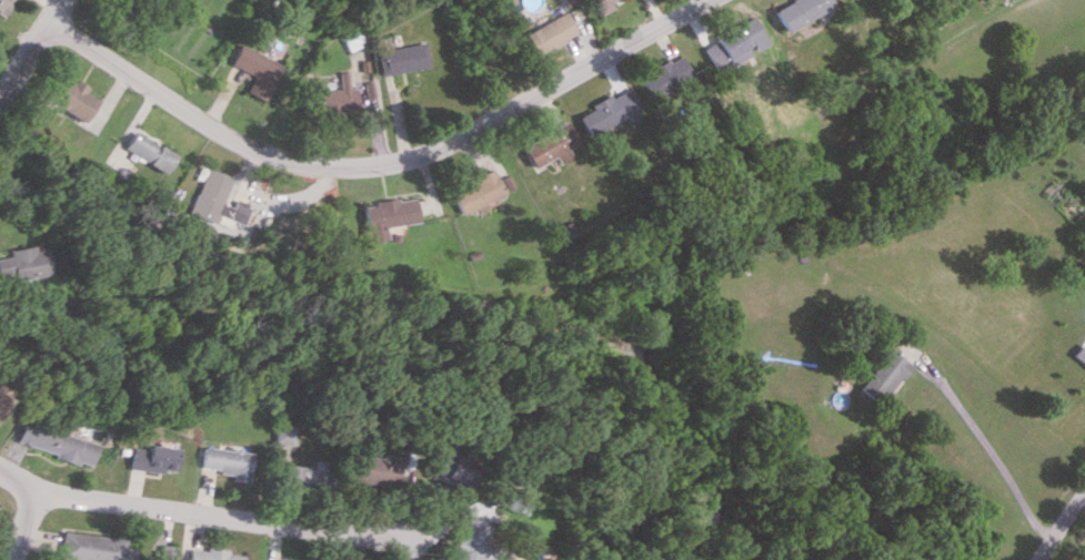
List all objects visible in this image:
building: (2, 6)
building: (121, 6)
building: (599, 6)
building: (795, 10)
building: (547, 32)
building: (733, 43)
road: (28, 45)
building: (395, 58)
building: (253, 70)
building: (662, 77)
building: (67, 98)
building: (333, 99)
building: (606, 111)
building: (546, 144)
building: (137, 153)
road: (375, 165)
building: (473, 192)
building: (217, 206)
building: (384, 215)
building: (21, 263)
building: (1076, 355)
building: (880, 376)
building: (2, 403)
building: (282, 432)
building: (54, 444)
road: (986, 449)
building: (151, 458)
building: (224, 461)
building: (444, 466)
building: (368, 469)
building: (294, 476)
road: (1082, 499)
road: (200, 513)
road: (1061, 522)
road: (21, 526)
building: (468, 539)
building: (91, 547)
building: (162, 552)
building: (208, 554)

